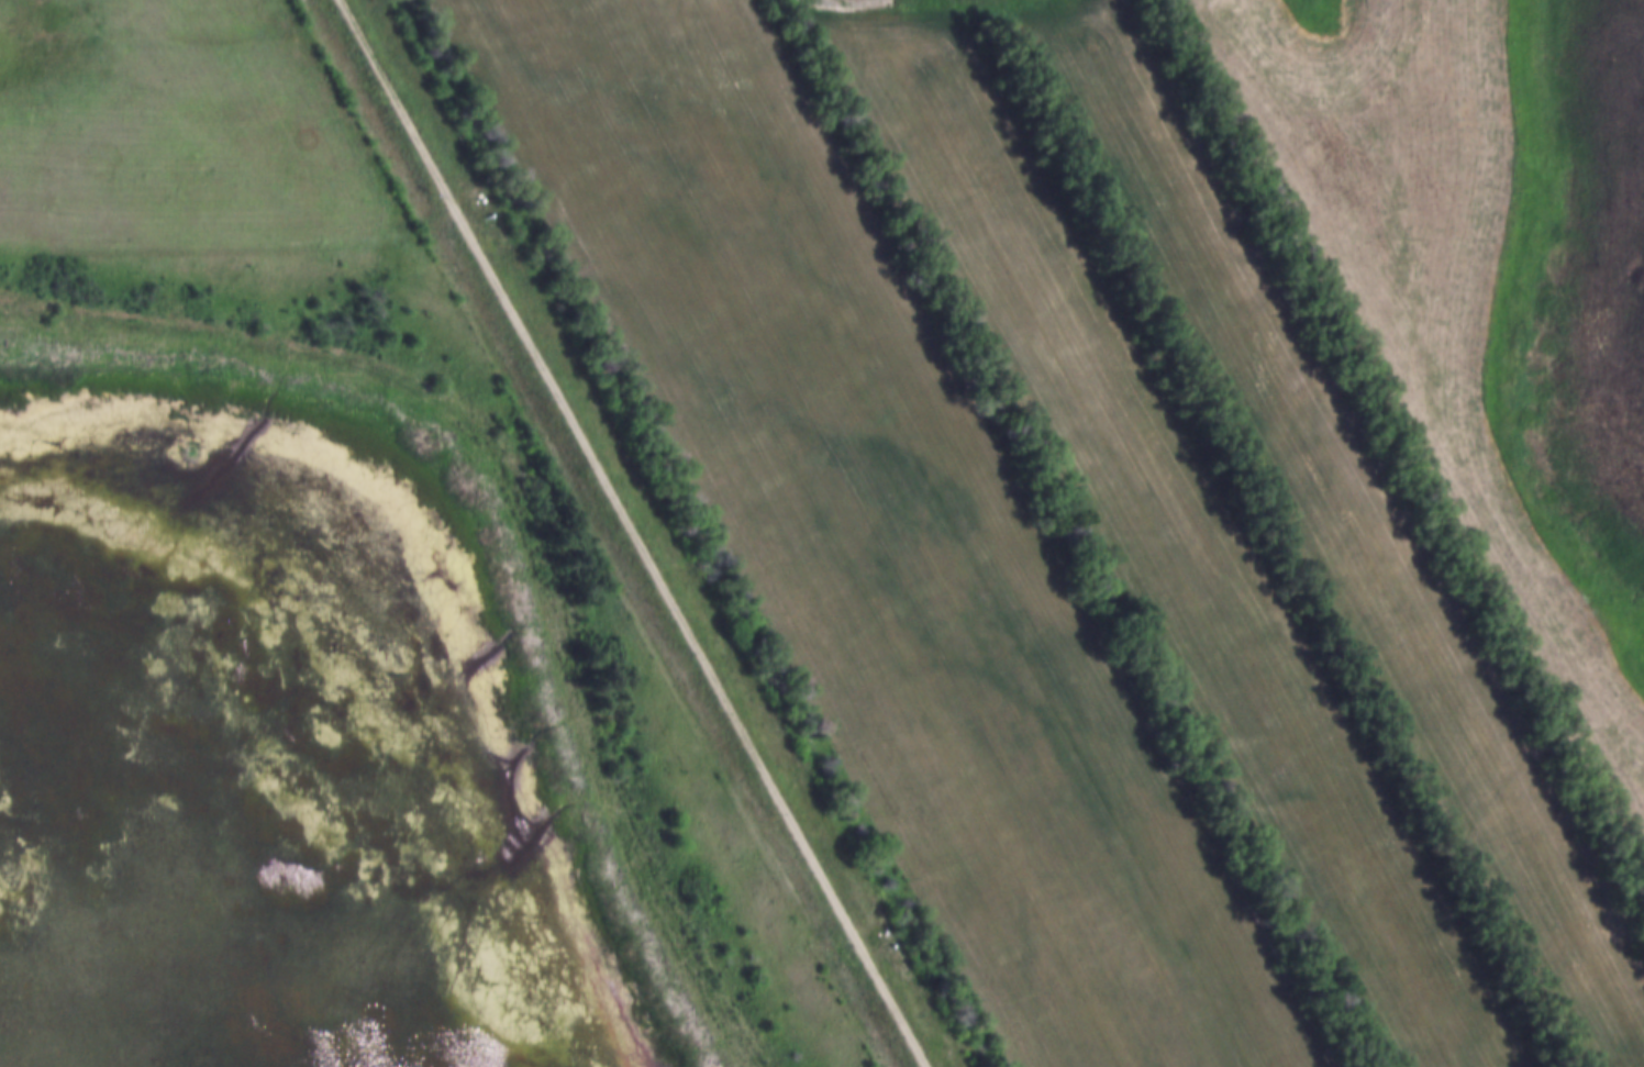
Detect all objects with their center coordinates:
road: (627, 535)

